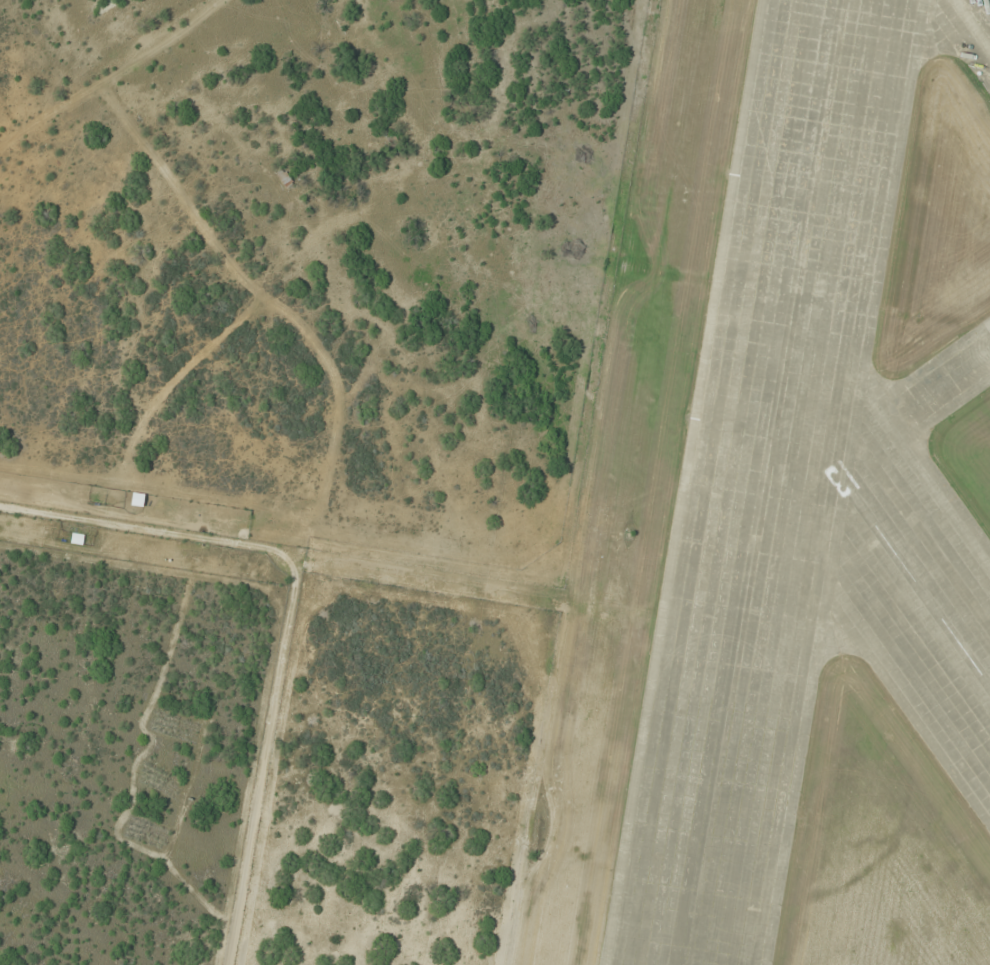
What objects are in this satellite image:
airport taxiway: (971, 27)
building: (285, 178)
airport taxiway: (912, 409)
airport: (495, 482)
airport runway: (768, 482)
airport runway: (887, 536)
building: (77, 538)
building: (973, 777)

